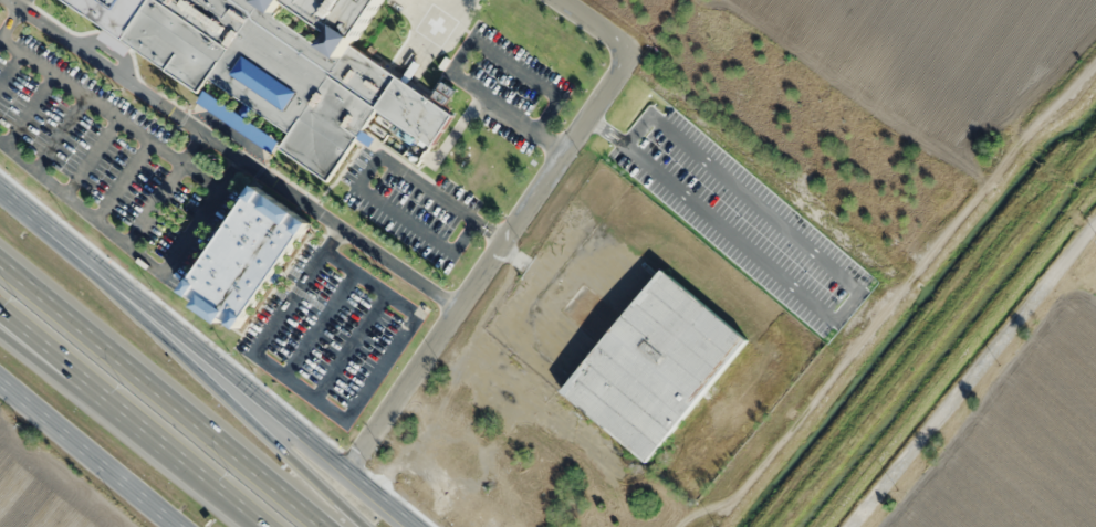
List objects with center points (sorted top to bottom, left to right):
helipad: (434, 32)
building: (286, 68)
road: (27, 213)
road: (509, 224)
building: (244, 255)
building: (654, 365)
road: (972, 375)
road: (211, 381)
road: (232, 381)
road: (71, 386)
road: (166, 389)
road: (125, 424)
road: (91, 453)

